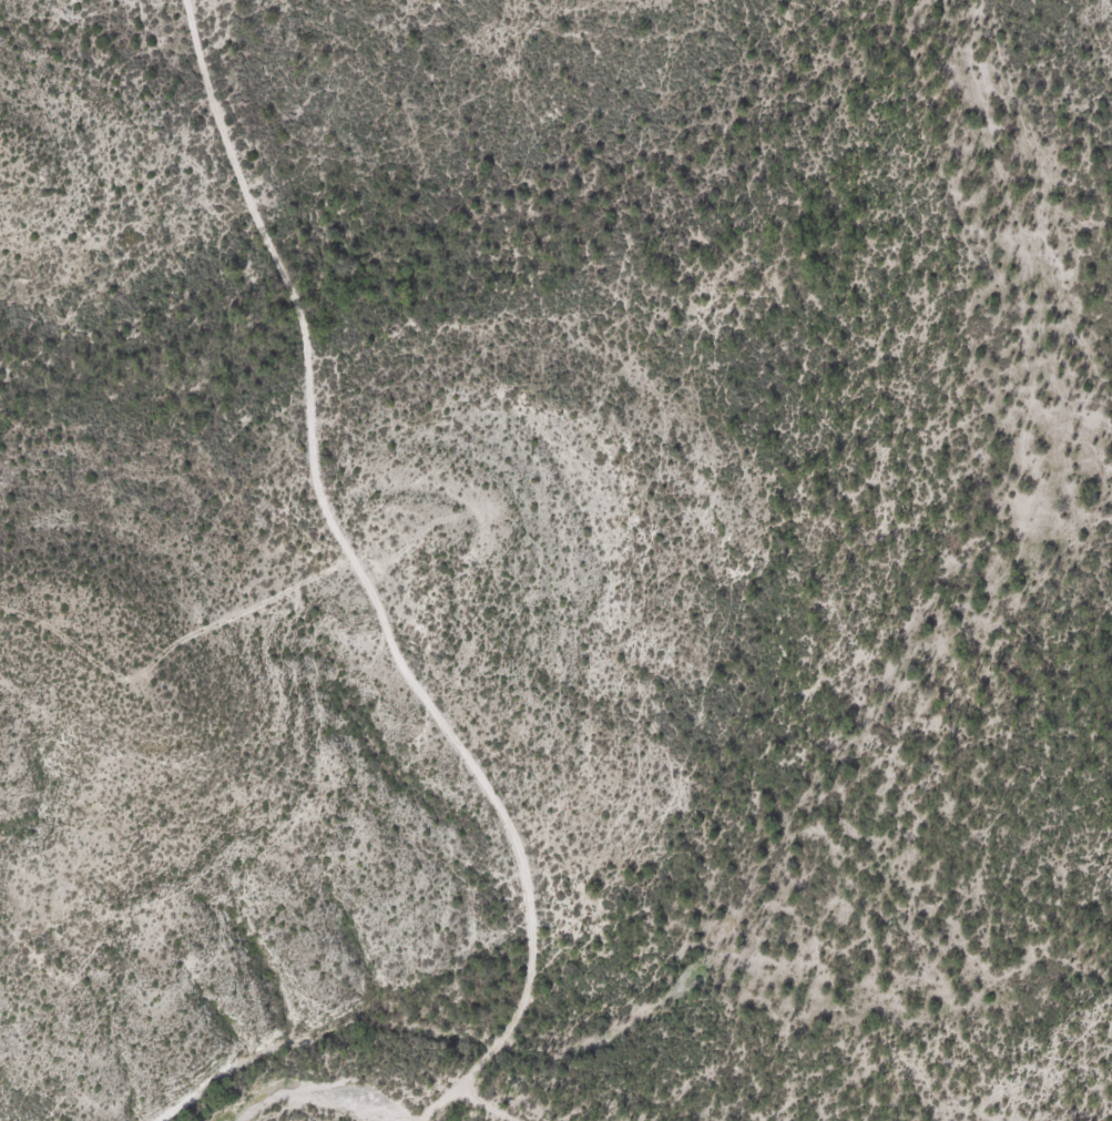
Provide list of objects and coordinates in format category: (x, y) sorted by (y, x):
road: (366, 584)
road: (490, 1101)

